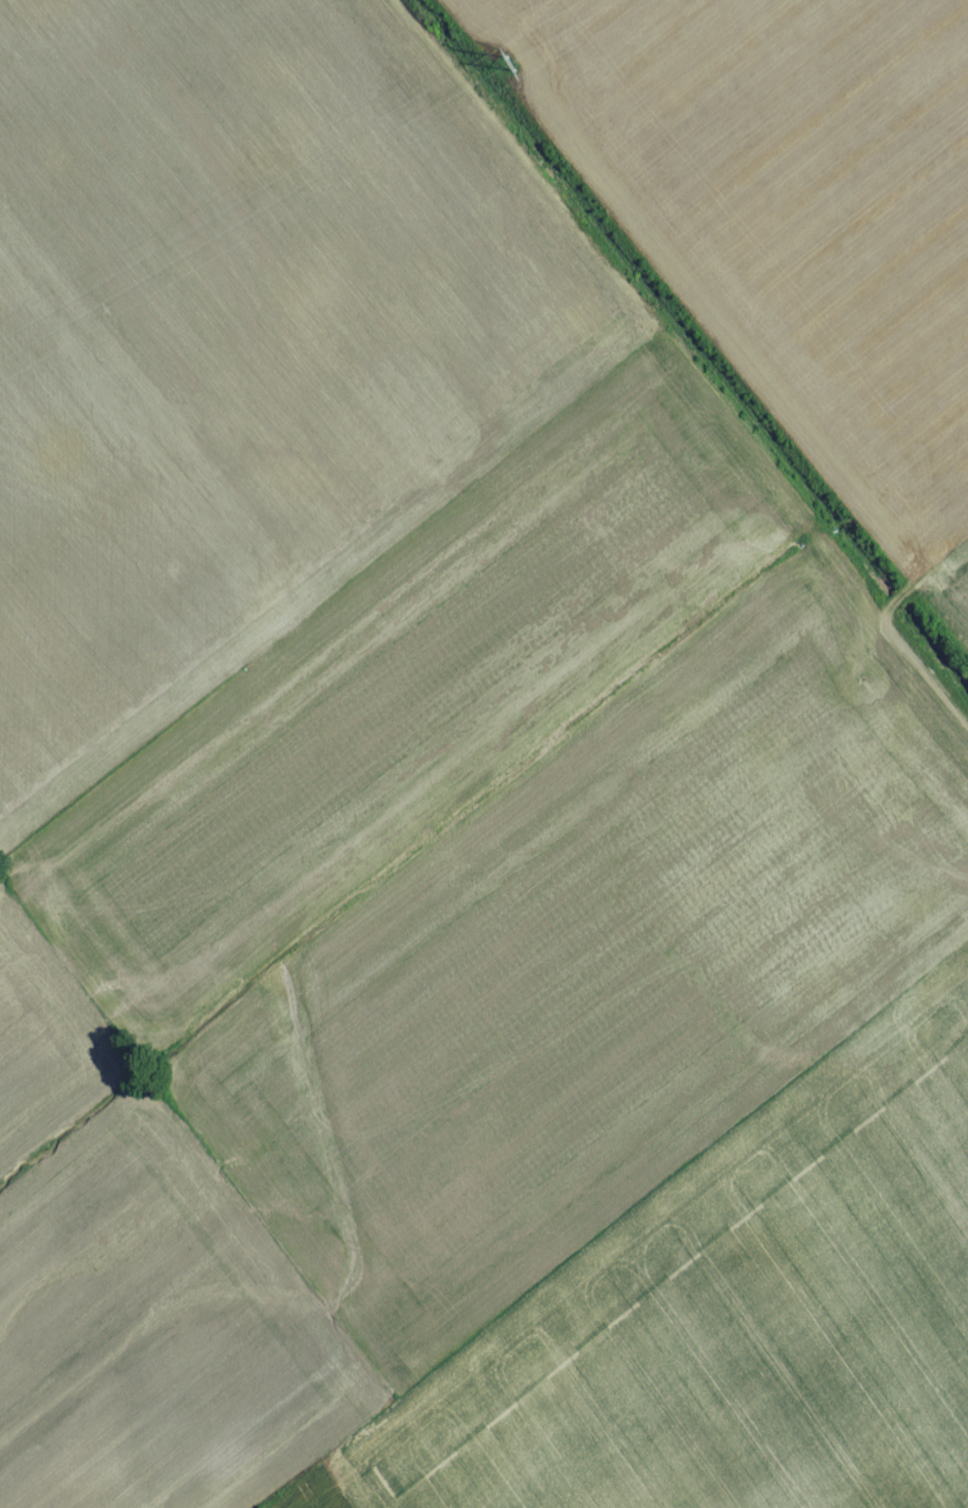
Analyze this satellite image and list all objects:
power tower: (515, 71)

